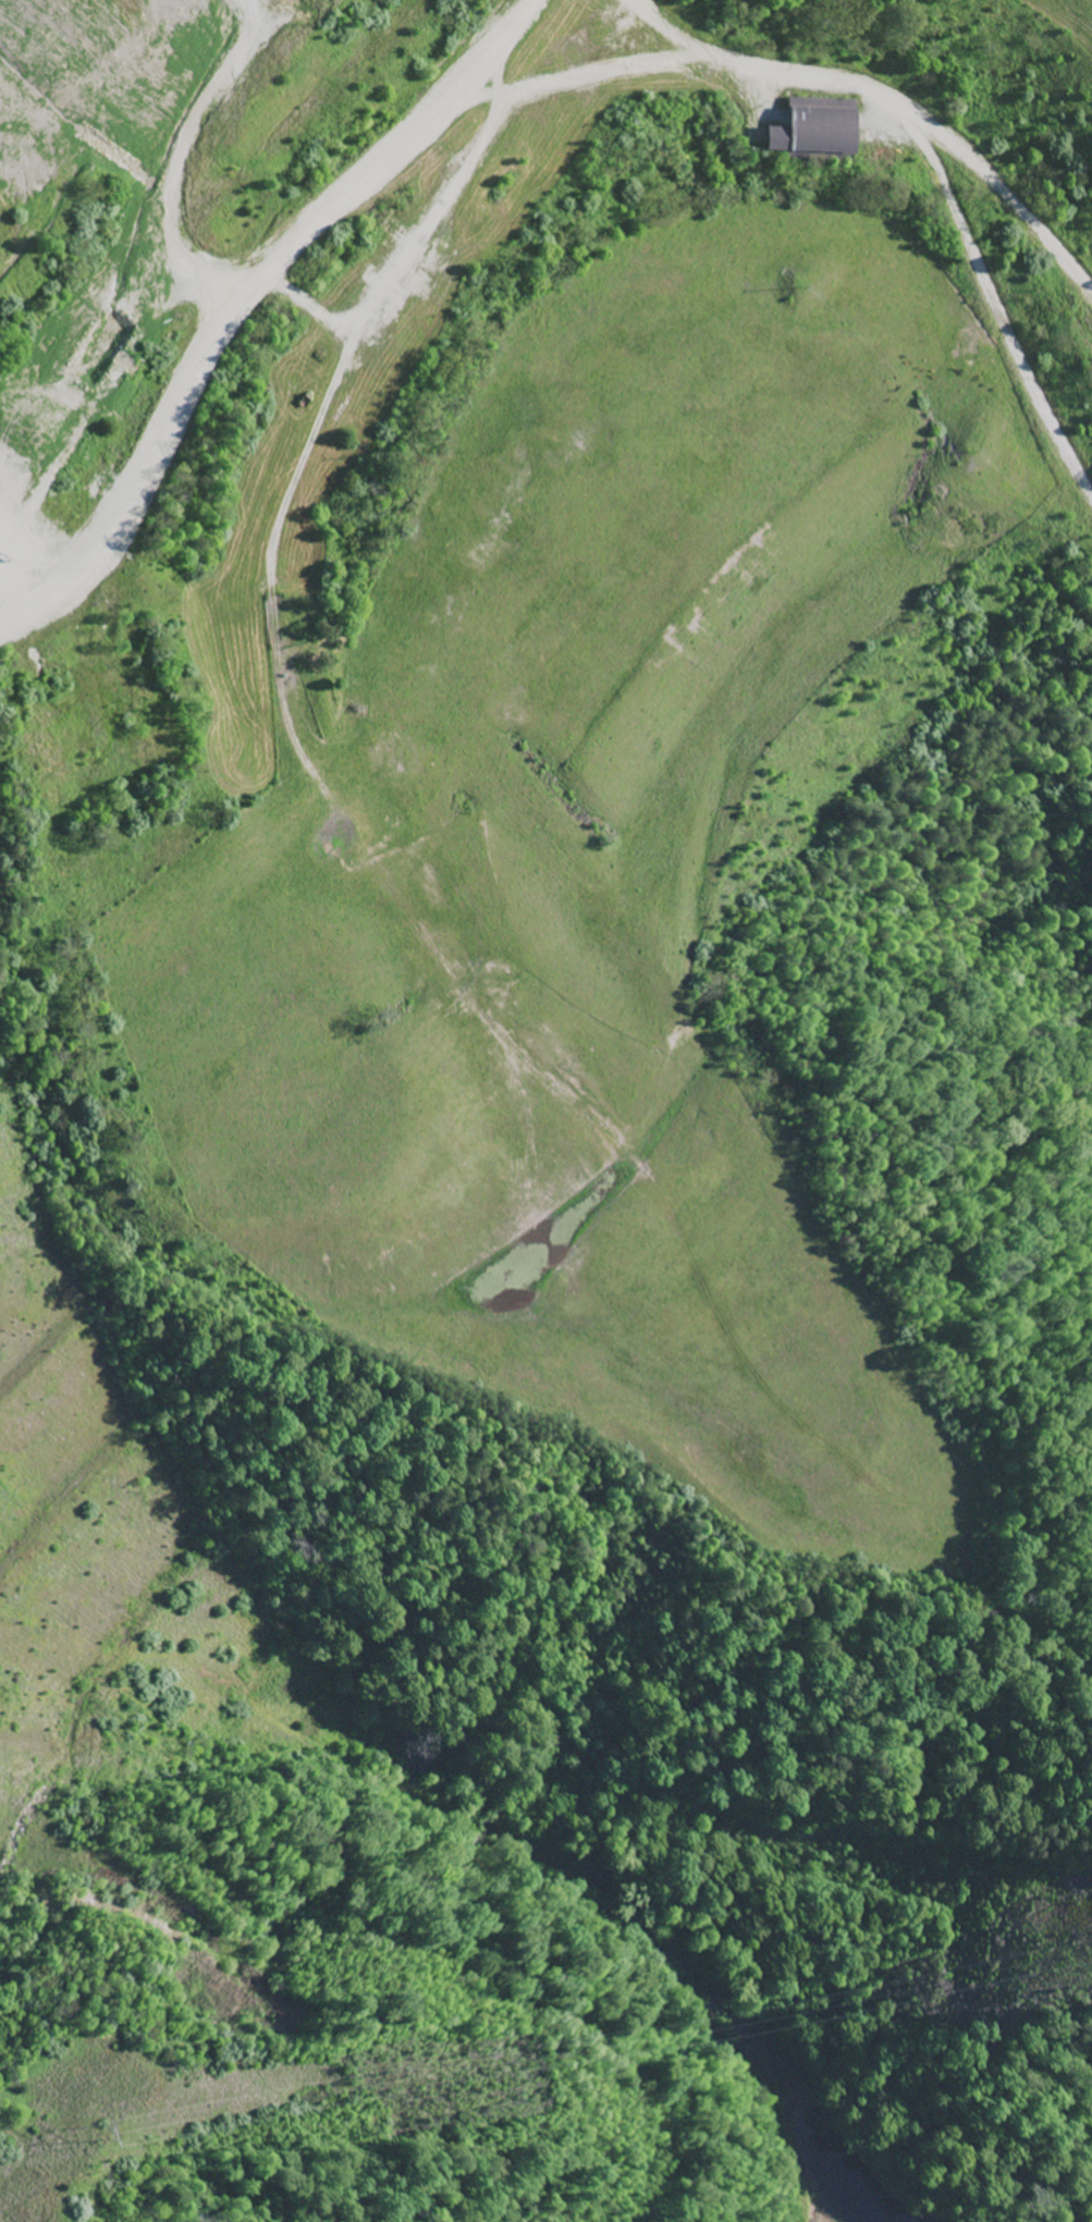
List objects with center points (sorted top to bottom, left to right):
building: (807, 132)

